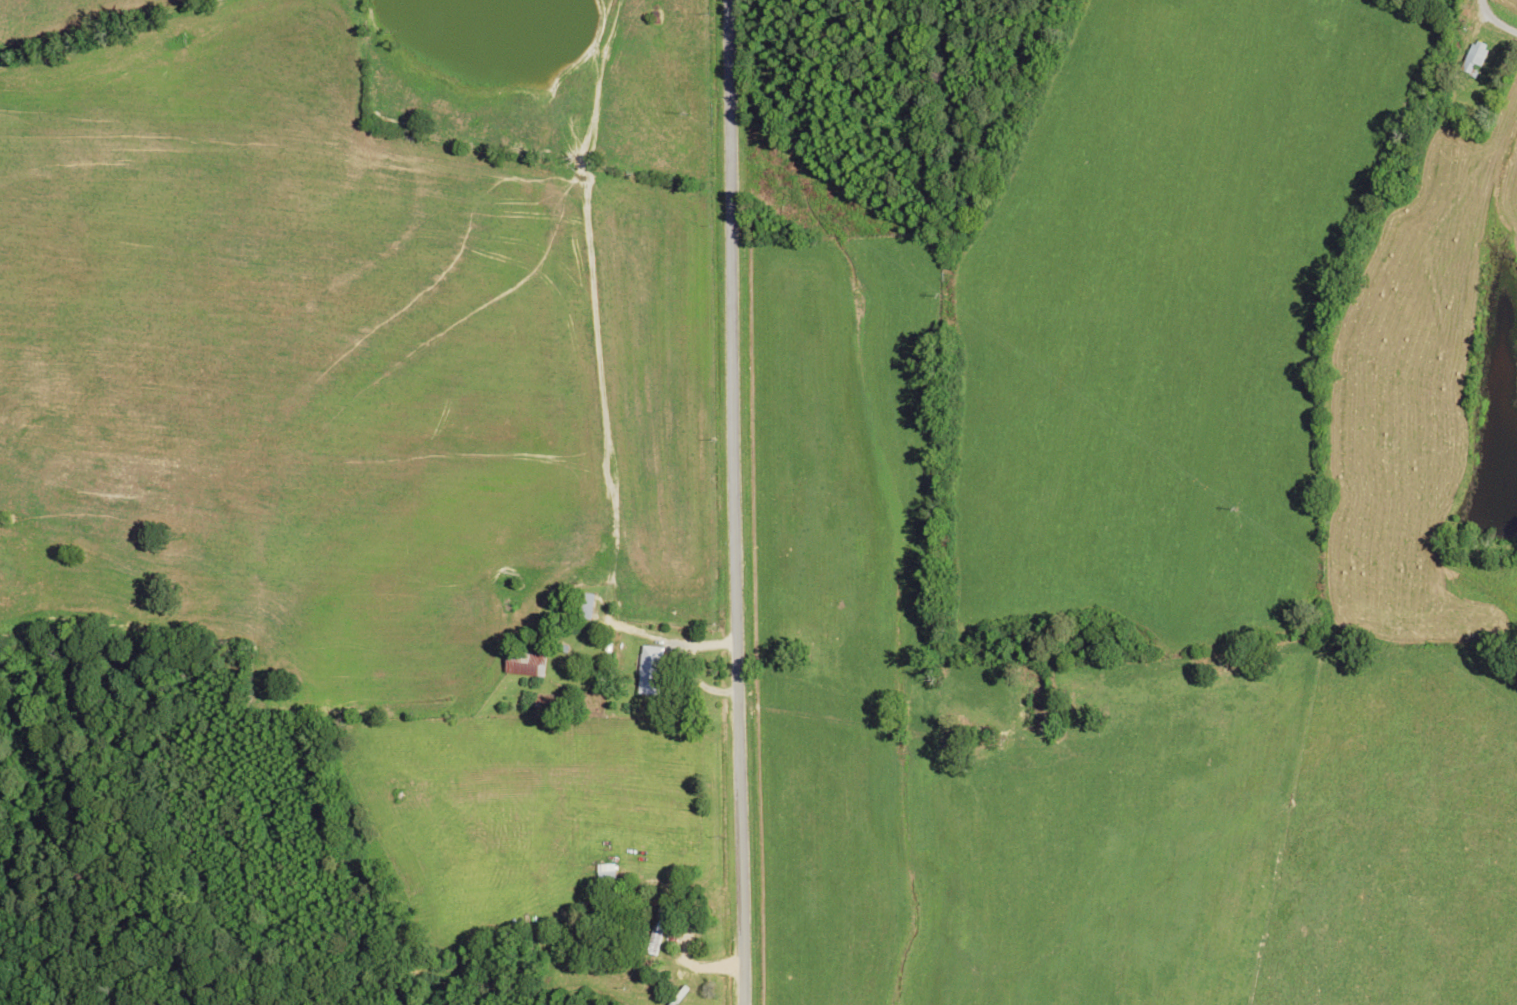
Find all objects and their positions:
road: (1483, 19)
building: (1472, 59)
road: (730, 502)
building: (589, 608)
building: (528, 665)
building: (652, 672)
building: (657, 933)

